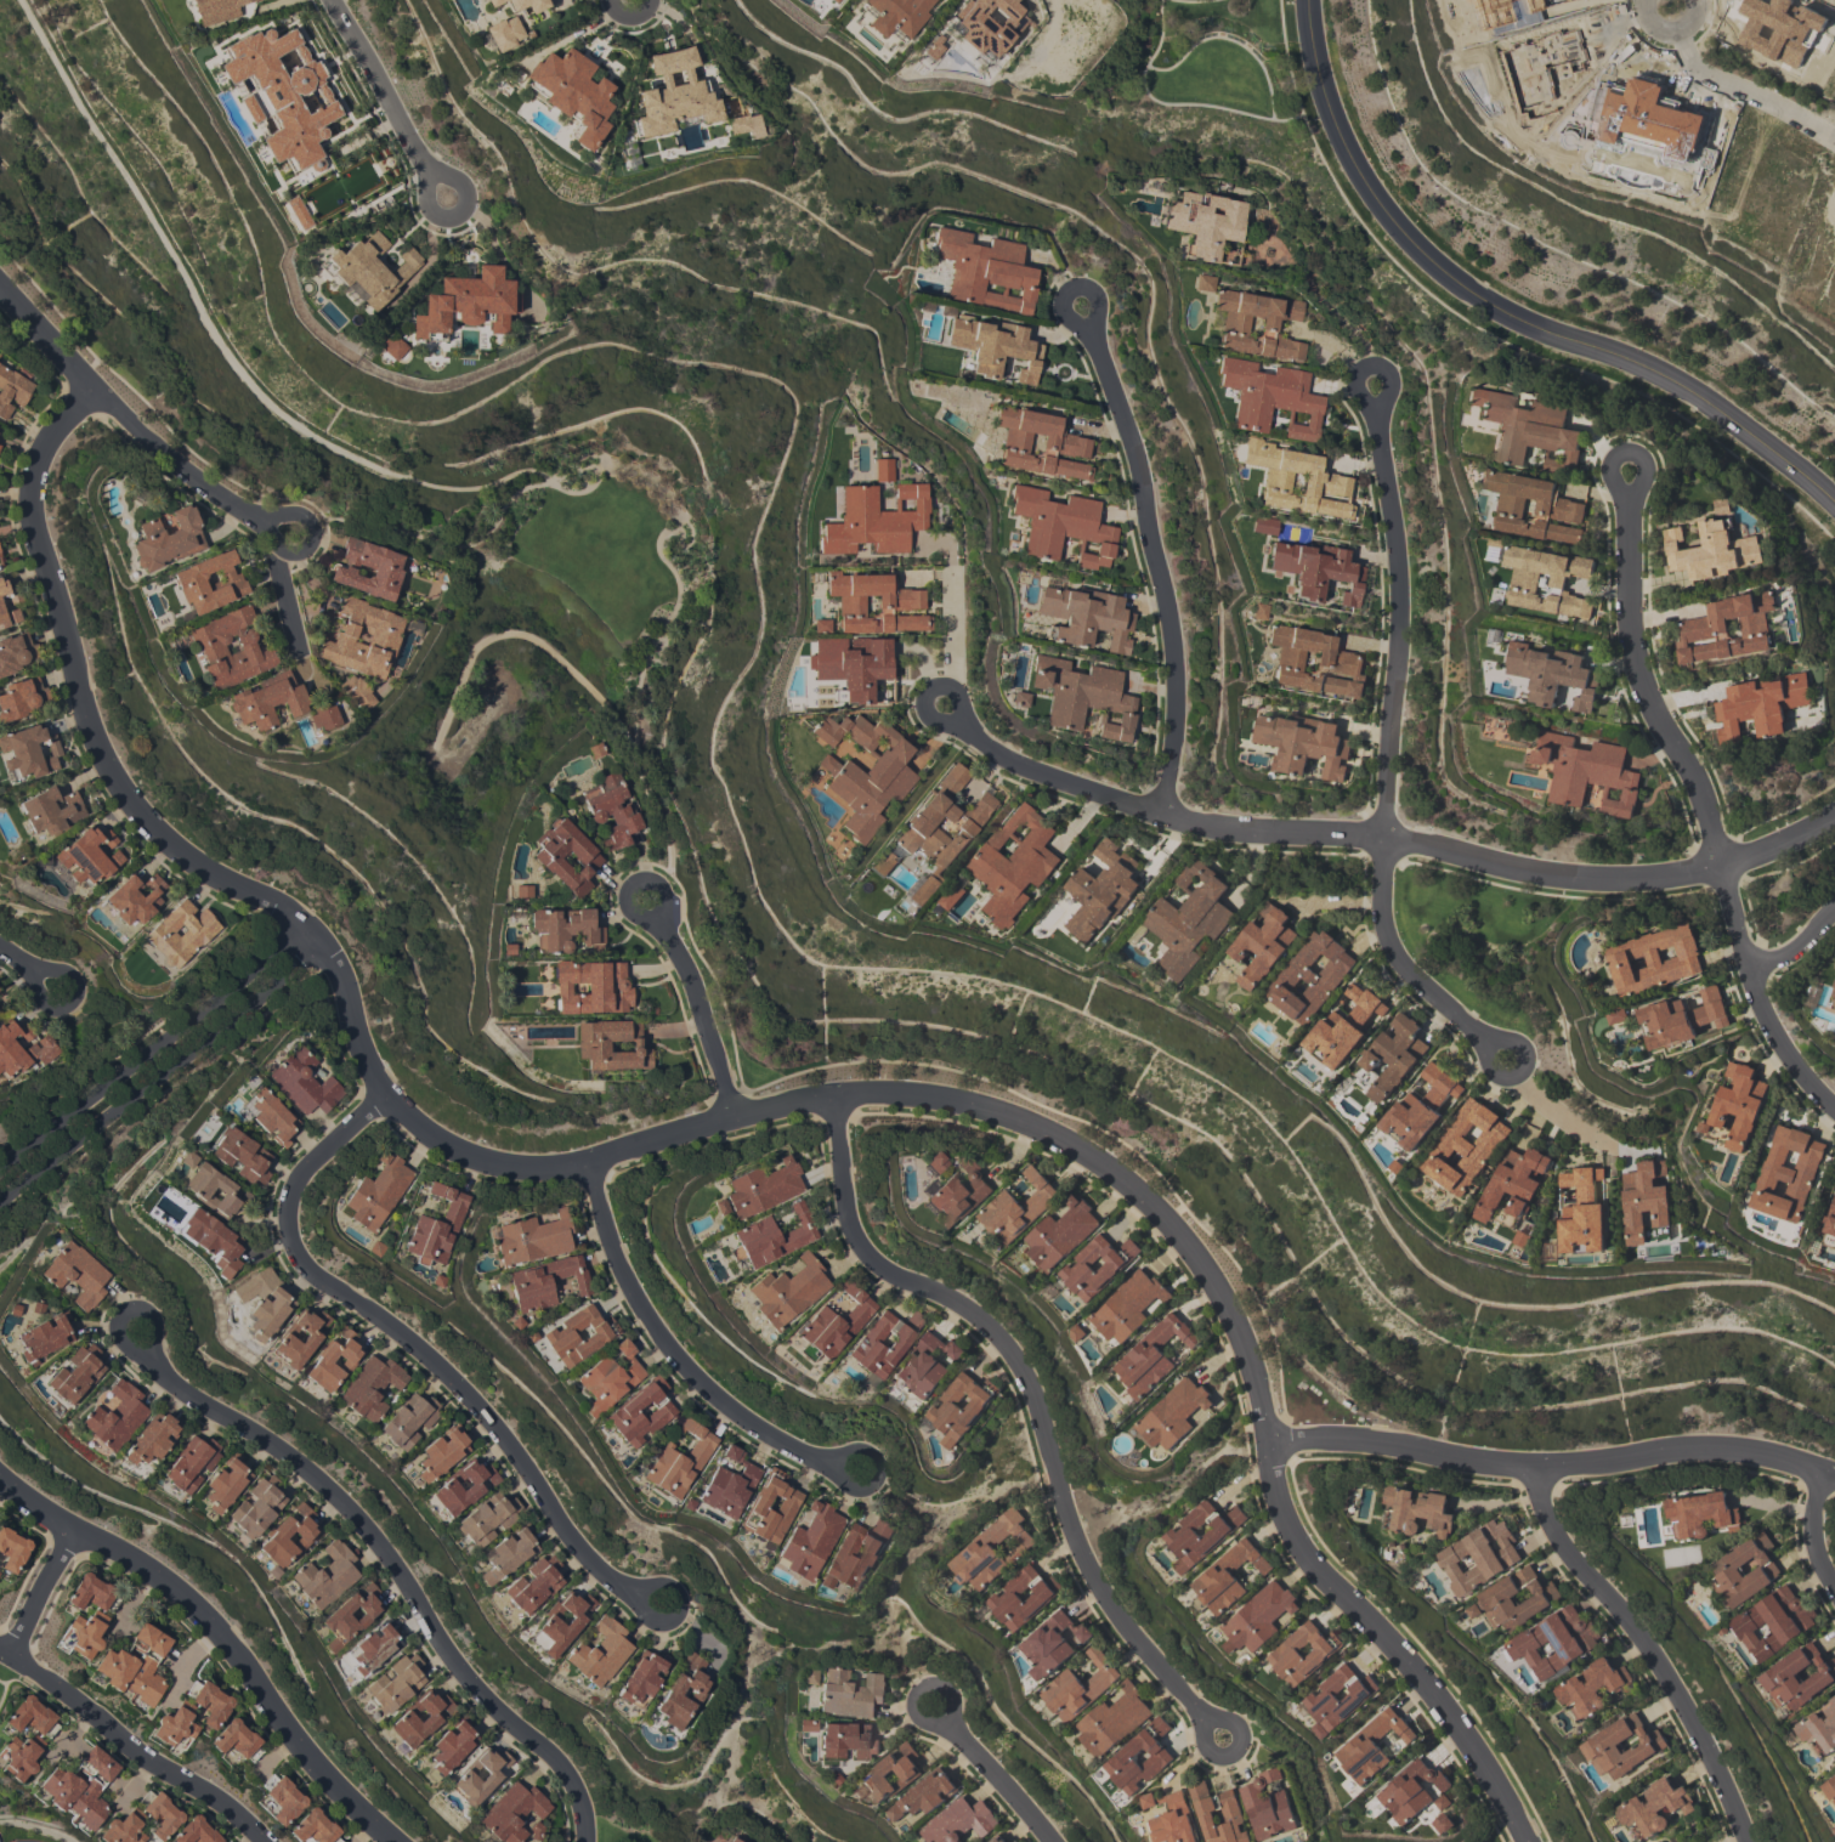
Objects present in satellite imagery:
building: (831, 0)
building: (834, 0)
building: (493, 2)
road: (1670, 2)
building: (528, 4)
road: (1065, 5)
building: (221, 10)
building: (894, 16)
building: (991, 25)
building: (504, 32)
road: (1733, 92)
building: (572, 93)
building: (680, 93)
road: (386, 100)
building: (746, 120)
building: (1205, 222)
building: (369, 268)
building: (985, 271)
road: (180, 274)
building: (1203, 282)
road: (1072, 285)
building: (355, 291)
building: (468, 304)
road: (1502, 311)
building: (1234, 324)
building: (392, 346)
building: (993, 346)
road: (1369, 363)
building: (12, 390)
building: (1269, 397)
road: (123, 414)
building: (1527, 430)
building: (1040, 442)
road: (1627, 453)
building: (883, 470)
building: (1323, 476)
road: (480, 491)
building: (1570, 505)
building: (1722, 505)
road: (678, 517)
building: (874, 520)
building: (1263, 525)
building: (1061, 526)
building: (166, 539)
road: (308, 542)
building: (1495, 542)
building: (1711, 550)
building: (0, 556)
road: (1156, 565)
building: (368, 568)
building: (1316, 569)
building: (209, 582)
building: (1523, 583)
building: (7, 590)
building: (873, 602)
road: (950, 602)
road: (285, 603)
building: (1258, 611)
building: (9, 616)
building: (1084, 617)
building: (821, 625)
building: (1703, 627)
building: (362, 637)
road: (531, 641)
building: (230, 647)
building: (16, 652)
building: (1314, 662)
building: (855, 667)
building: (1552, 674)
road: (927, 691)
building: (356, 692)
building: (1082, 696)
building: (21, 697)
building: (1019, 698)
building: (267, 699)
building: (1760, 704)
building: (323, 715)
building: (1303, 743)
building: (595, 749)
building: (29, 750)
road: (1382, 764)
building: (865, 771)
building: (1587, 771)
road: (1703, 809)
building: (50, 810)
building: (611, 810)
building: (942, 826)
road: (1395, 843)
building: (89, 855)
building: (566, 856)
building: (1013, 862)
building: (887, 863)
road: (636, 880)
building: (1101, 890)
building: (522, 891)
building: (952, 896)
building: (134, 899)
building: (1189, 918)
building: (563, 929)
building: (180, 933)
building: (1263, 943)
road: (1795, 945)
building: (508, 948)
road: (16, 957)
building: (1655, 958)
building: (1309, 976)
building: (1834, 984)
building: (590, 986)
road: (70, 1001)
building: (1834, 1004)
building: (1618, 1015)
road: (701, 1016)
building: (1682, 1018)
building: (1344, 1026)
building: (611, 1044)
building: (39, 1049)
road: (153, 1050)
building: (1394, 1055)
road: (162, 1076)
building: (302, 1082)
building: (1739, 1103)
road: (1545, 1106)
building: (1421, 1107)
building: (271, 1116)
road: (695, 1124)
building: (1706, 1127)
building: (1466, 1146)
building: (240, 1155)
building: (187, 1158)
building: (935, 1161)
building: (1397, 1167)
building: (1788, 1173)
building: (1514, 1183)
building: (761, 1188)
building: (214, 1190)
building: (376, 1191)
building: (959, 1194)
building: (1644, 1200)
building: (720, 1206)
building: (1019, 1207)
building: (1582, 1211)
building: (1830, 1220)
building: (436, 1226)
building: (1061, 1234)
building: (771, 1237)
building: (1522, 1237)
building: (532, 1239)
building: (211, 1240)
building: (375, 1247)
building: (1098, 1265)
building: (75, 1273)
building: (437, 1280)
building: (544, 1281)
building: (787, 1291)
building: (264, 1302)
building: (1128, 1305)
road: (123, 1308)
building: (517, 1322)
building: (836, 1322)
building: (1077, 1332)
building: (578, 1334)
building: (531, 1336)
building: (44, 1337)
building: (299, 1337)
building: (884, 1342)
road: (667, 1345)
road: (421, 1348)
building: (1154, 1355)
building: (333, 1360)
building: (925, 1365)
building: (75, 1373)
building: (608, 1378)
road: (1029, 1384)
building: (369, 1387)
building: (962, 1406)
building: (640, 1411)
building: (1174, 1413)
building: (115, 1416)
building: (408, 1419)
building: (152, 1438)
building: (441, 1452)
building: (679, 1460)
building: (189, 1462)
road: (1539, 1469)
road: (874, 1473)
building: (225, 1484)
building: (727, 1484)
building: (463, 1485)
building: (686, 1503)
building: (256, 1507)
building: (769, 1507)
building: (1417, 1511)
building: (1700, 1514)
building: (486, 1518)
road: (1822, 1524)
building: (1182, 1535)
building: (288, 1536)
building: (809, 1540)
building: (12, 1548)
building: (993, 1549)
building: (506, 1554)
building: (855, 1555)
building: (1479, 1557)
road: (396, 1570)
building: (1726, 1570)
building: (325, 1575)
building: (1227, 1576)
building: (533, 1585)
building: (92, 1593)
road: (46, 1594)
building: (1024, 1597)
building: (1499, 1600)
road: (676, 1610)
building: (350, 1616)
building: (1258, 1616)
building: (1773, 1621)
building: (560, 1622)
building: (84, 1633)
building: (141, 1636)
road: (219, 1636)
building: (1557, 1640)
building: (1050, 1643)
building: (372, 1648)
road: (1653, 1648)
building: (599, 1651)
building: (1285, 1654)
road: (185, 1660)
building: (114, 1667)
building: (147, 1672)
building: (810, 1676)
building: (1779, 1676)
building: (641, 1678)
building: (395, 1683)
building: (1080, 1687)
building: (1593, 1687)
road: (917, 1690)
building: (683, 1691)
building: (850, 1694)
building: (1320, 1698)
building: (209, 1701)
building: (32, 1716)
building: (419, 1717)
building: (1114, 1719)
building: (806, 1724)
building: (175, 1725)
building: (1819, 1729)
building: (236, 1739)
building: (846, 1740)
road: (132, 1744)
building: (1371, 1745)
building: (1599, 1745)
building: (449, 1749)
road: (1231, 1752)
building: (19, 1755)
building: (1140, 1756)
building: (89, 1759)
building: (891, 1774)
building: (478, 1775)
building: (832, 1776)
road: (1002, 1778)
building: (58, 1786)
building: (1830, 1789)
building: (1411, 1790)
building: (929, 1792)
building: (90, 1795)
building: (282, 1798)
building: (1268, 1806)
building: (1654, 1808)
building: (1207, 1809)
building: (511, 1812)
building: (159, 1813)
building: (896, 1813)
building: (1172, 1818)
building: (961, 1821)
building: (1445, 1823)
building: (121, 1827)
building: (313, 1827)
building: (1834, 1827)
building: (533, 1830)
building: (194, 1831)
park: (617, 1831)
parking lot: (0, 1838)
building: (997, 1838)
building: (734, 1840)
building: (1014, 1841)

